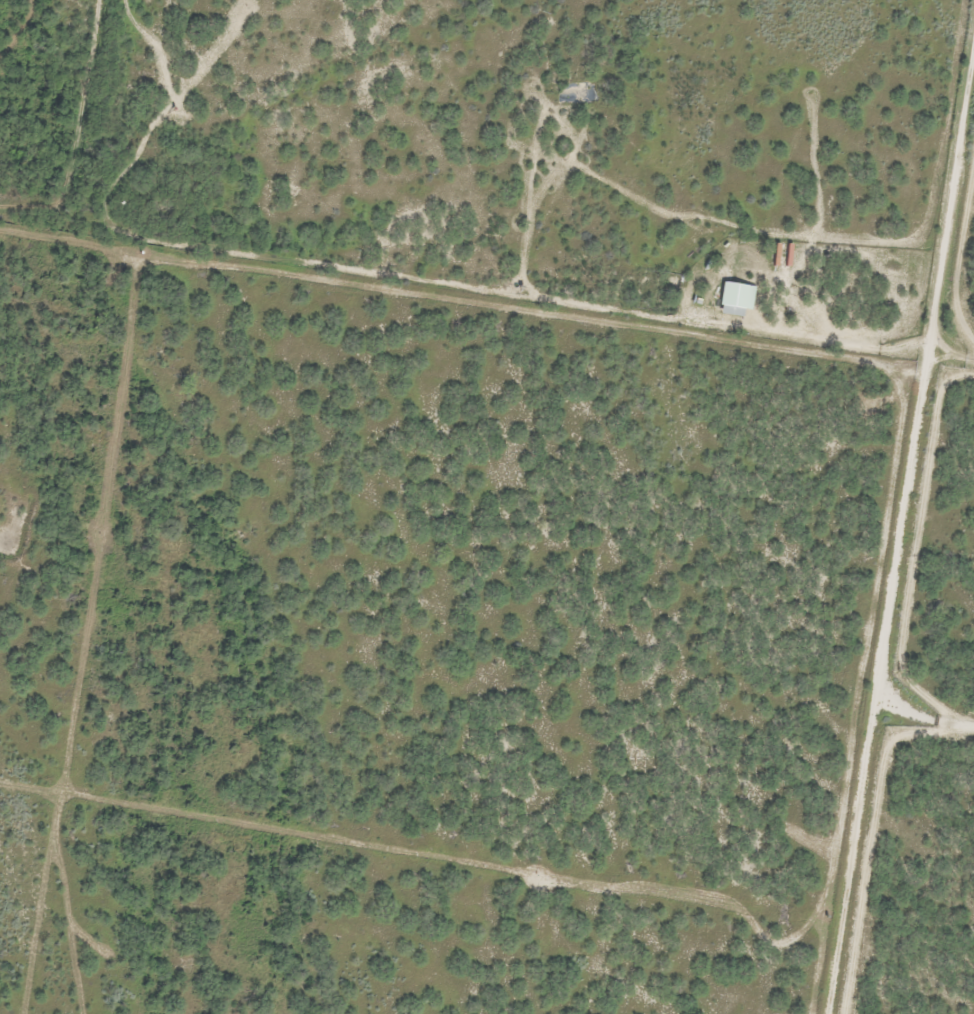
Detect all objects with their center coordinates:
building: (736, 299)
road: (486, 320)
road: (905, 606)

